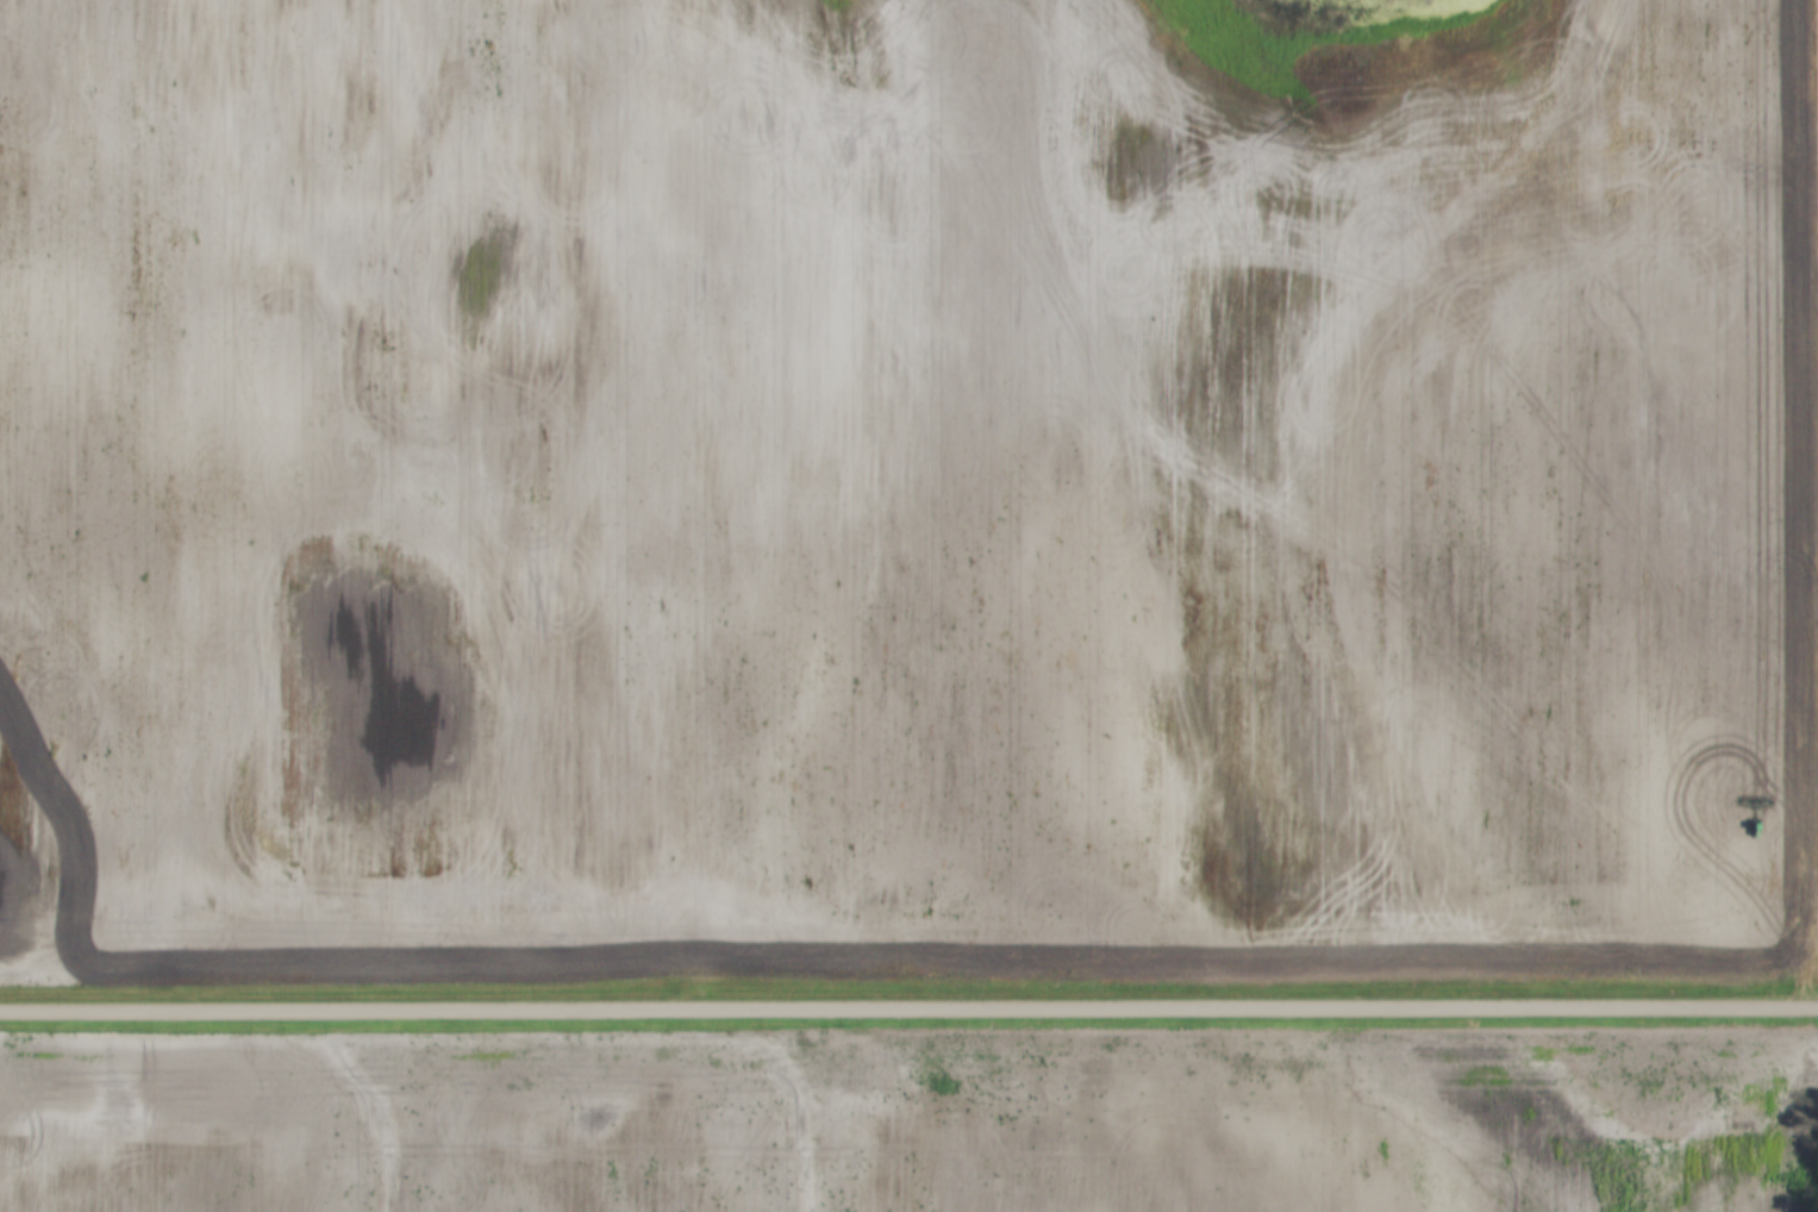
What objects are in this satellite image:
road: (908, 1008)

